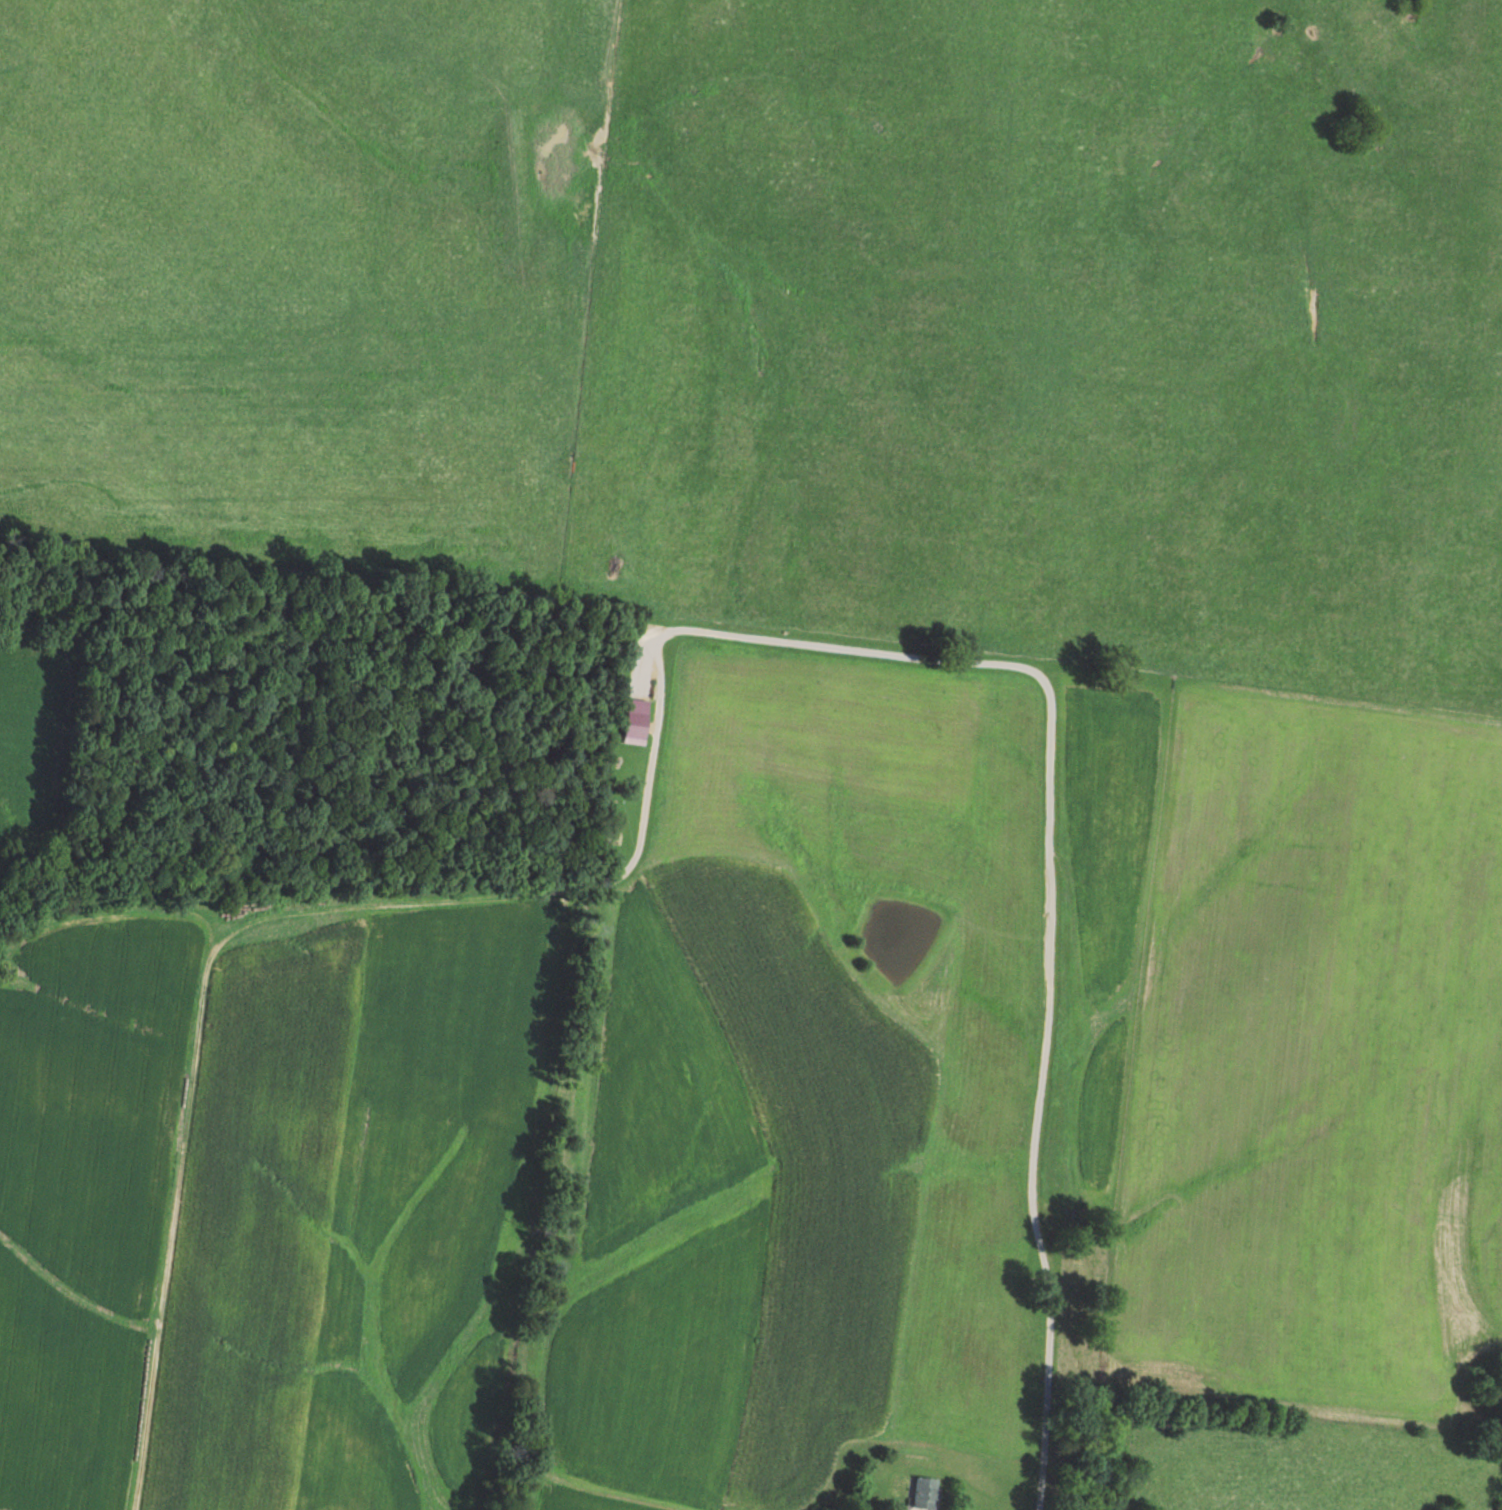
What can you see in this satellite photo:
building: (636, 719)
building: (927, 1492)

